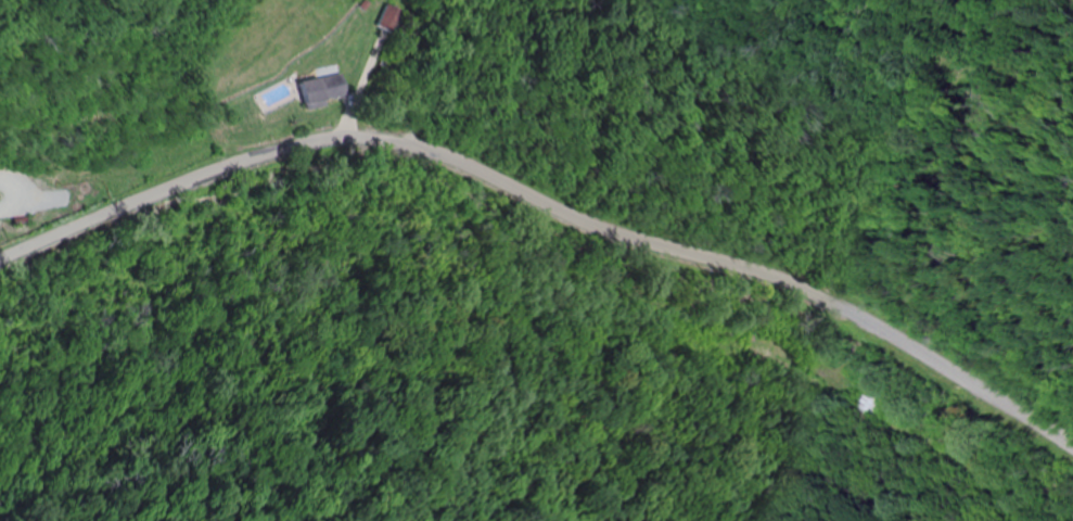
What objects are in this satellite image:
building: (387, 17)
road: (387, 65)
building: (327, 90)
road: (865, 132)
road: (550, 196)
road: (15, 203)
building: (766, 365)
building: (872, 406)

